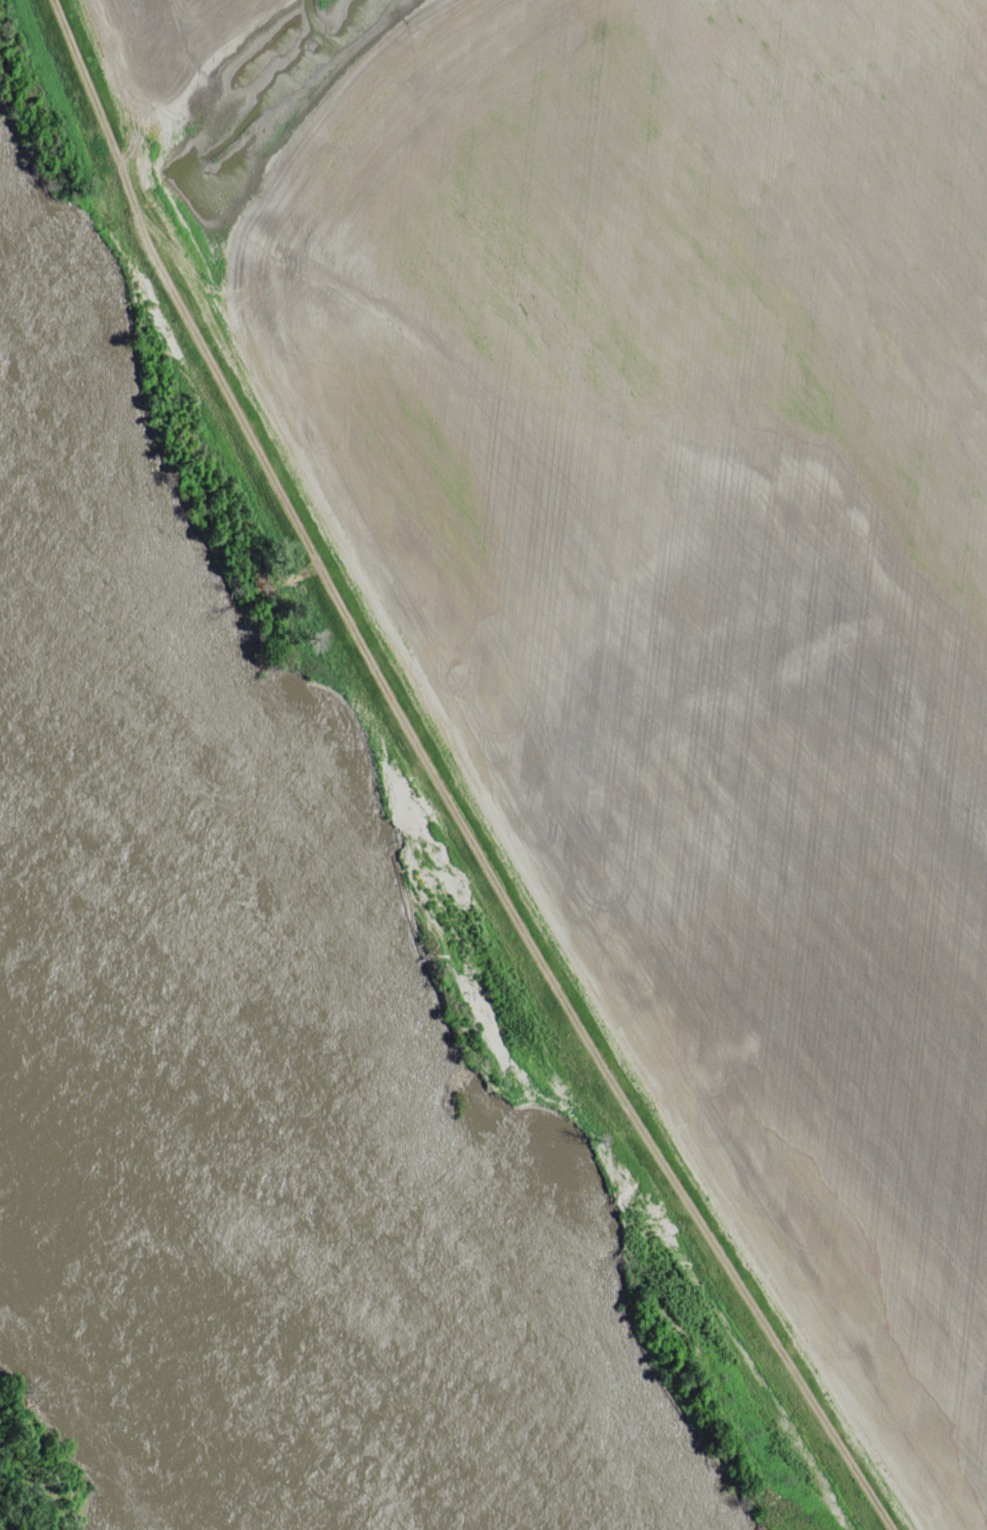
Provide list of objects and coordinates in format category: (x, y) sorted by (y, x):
road: (437, 784)
river: (258, 1124)

